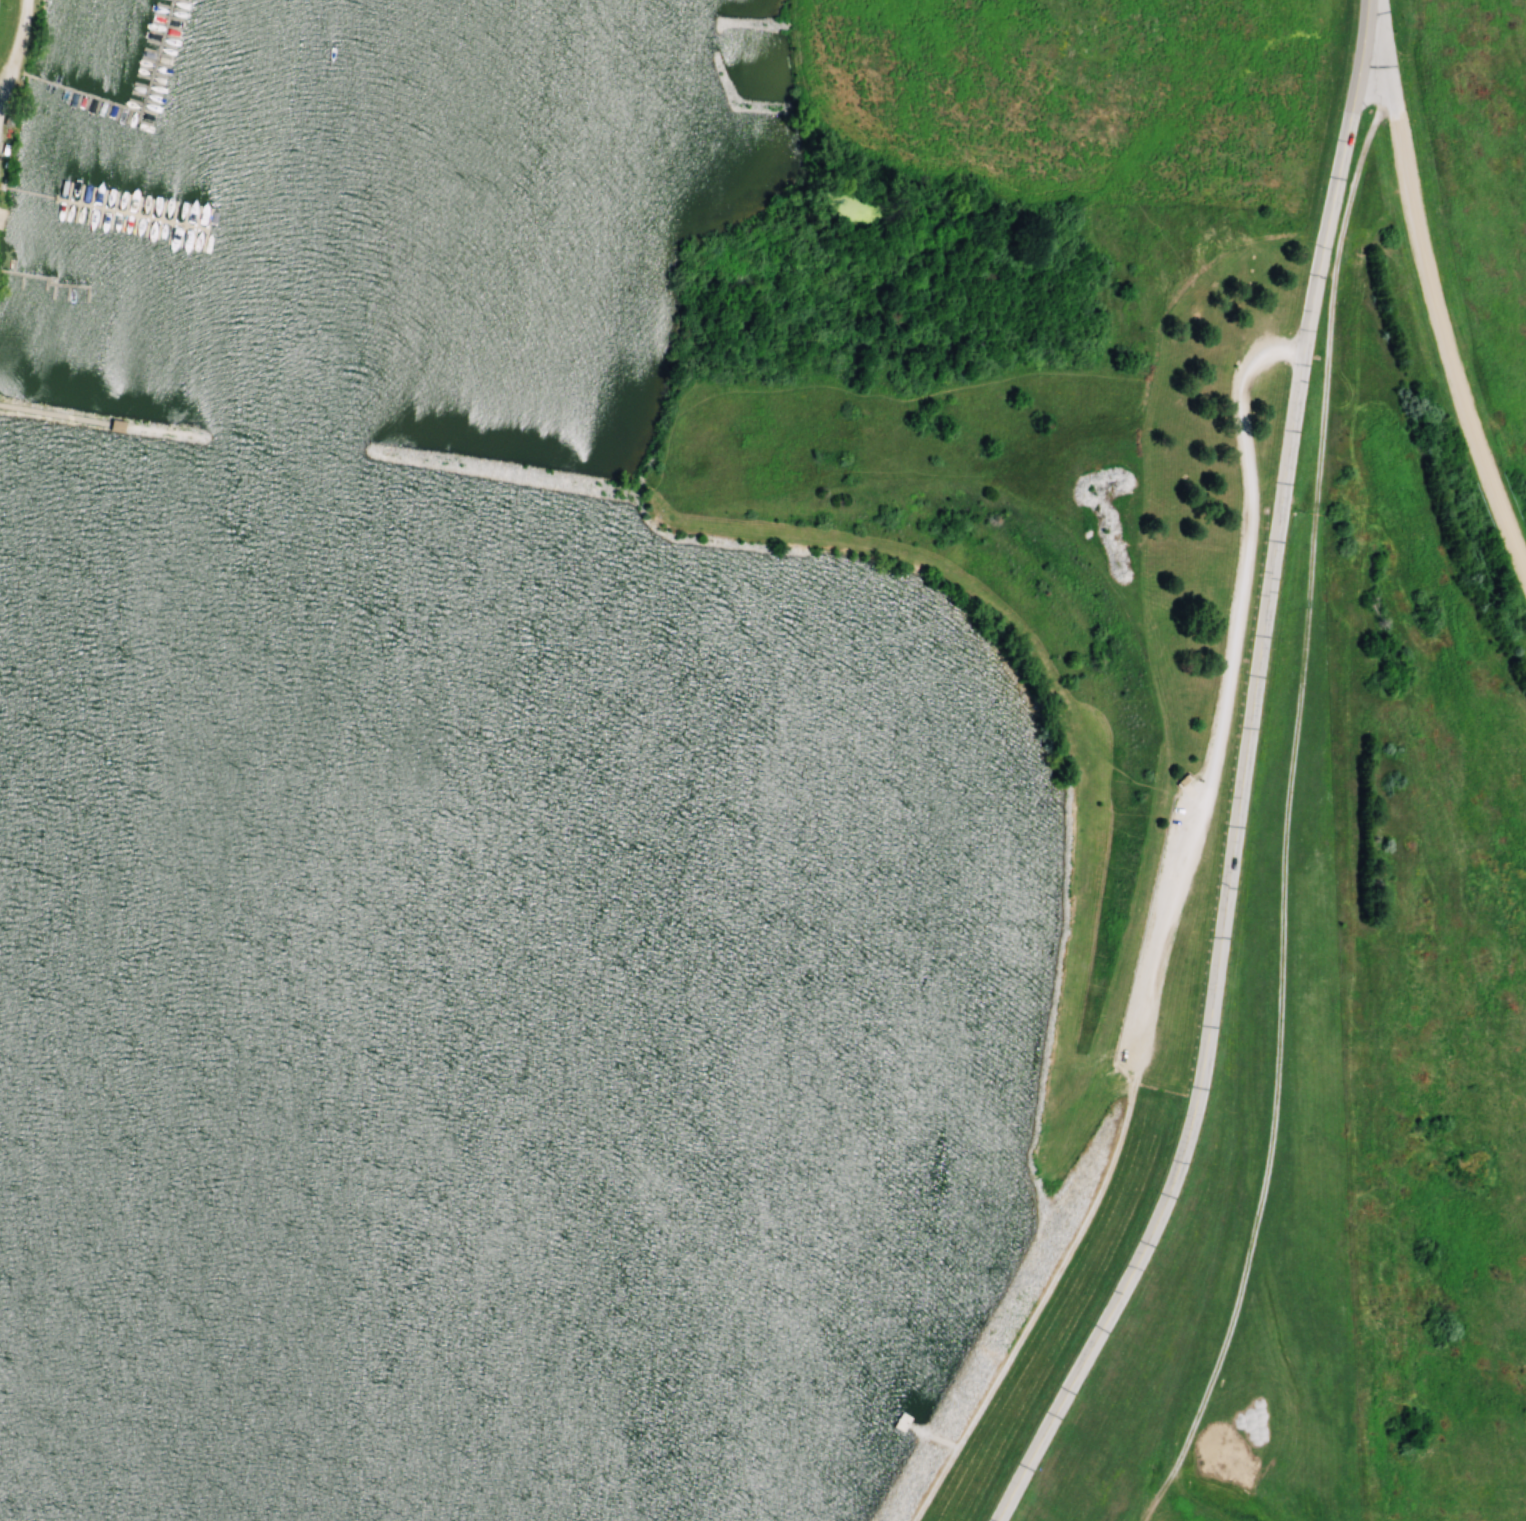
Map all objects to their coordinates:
road: (10, 42)
road: (1433, 286)
park: (617, 727)
road: (1240, 778)
road: (1163, 940)
river: (524, 1466)
river: (982, 1466)

